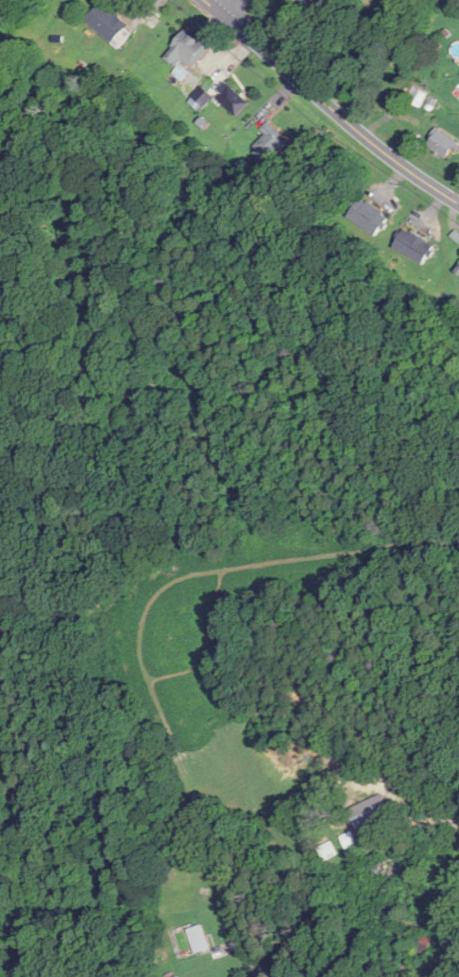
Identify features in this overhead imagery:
building: (307, 2)
road: (227, 7)
building: (109, 22)
building: (190, 48)
building: (233, 99)
road: (329, 104)
building: (269, 142)
building: (444, 143)
building: (370, 216)
building: (415, 246)
building: (458, 265)
building: (1, 368)
road: (453, 819)
building: (390, 869)
building: (199, 939)
road: (30, 946)
building: (422, 946)
road: (255, 947)

